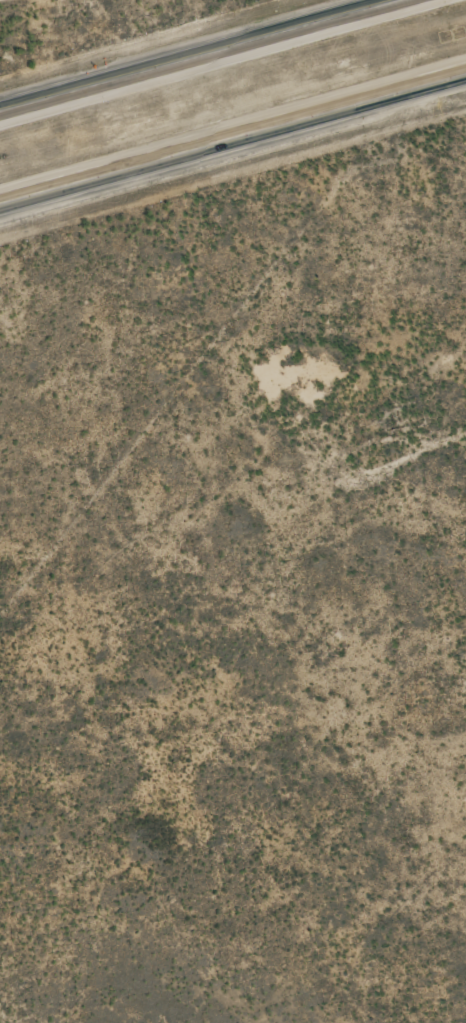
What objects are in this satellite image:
road: (203, 56)
road: (233, 136)
road: (393, 508)

